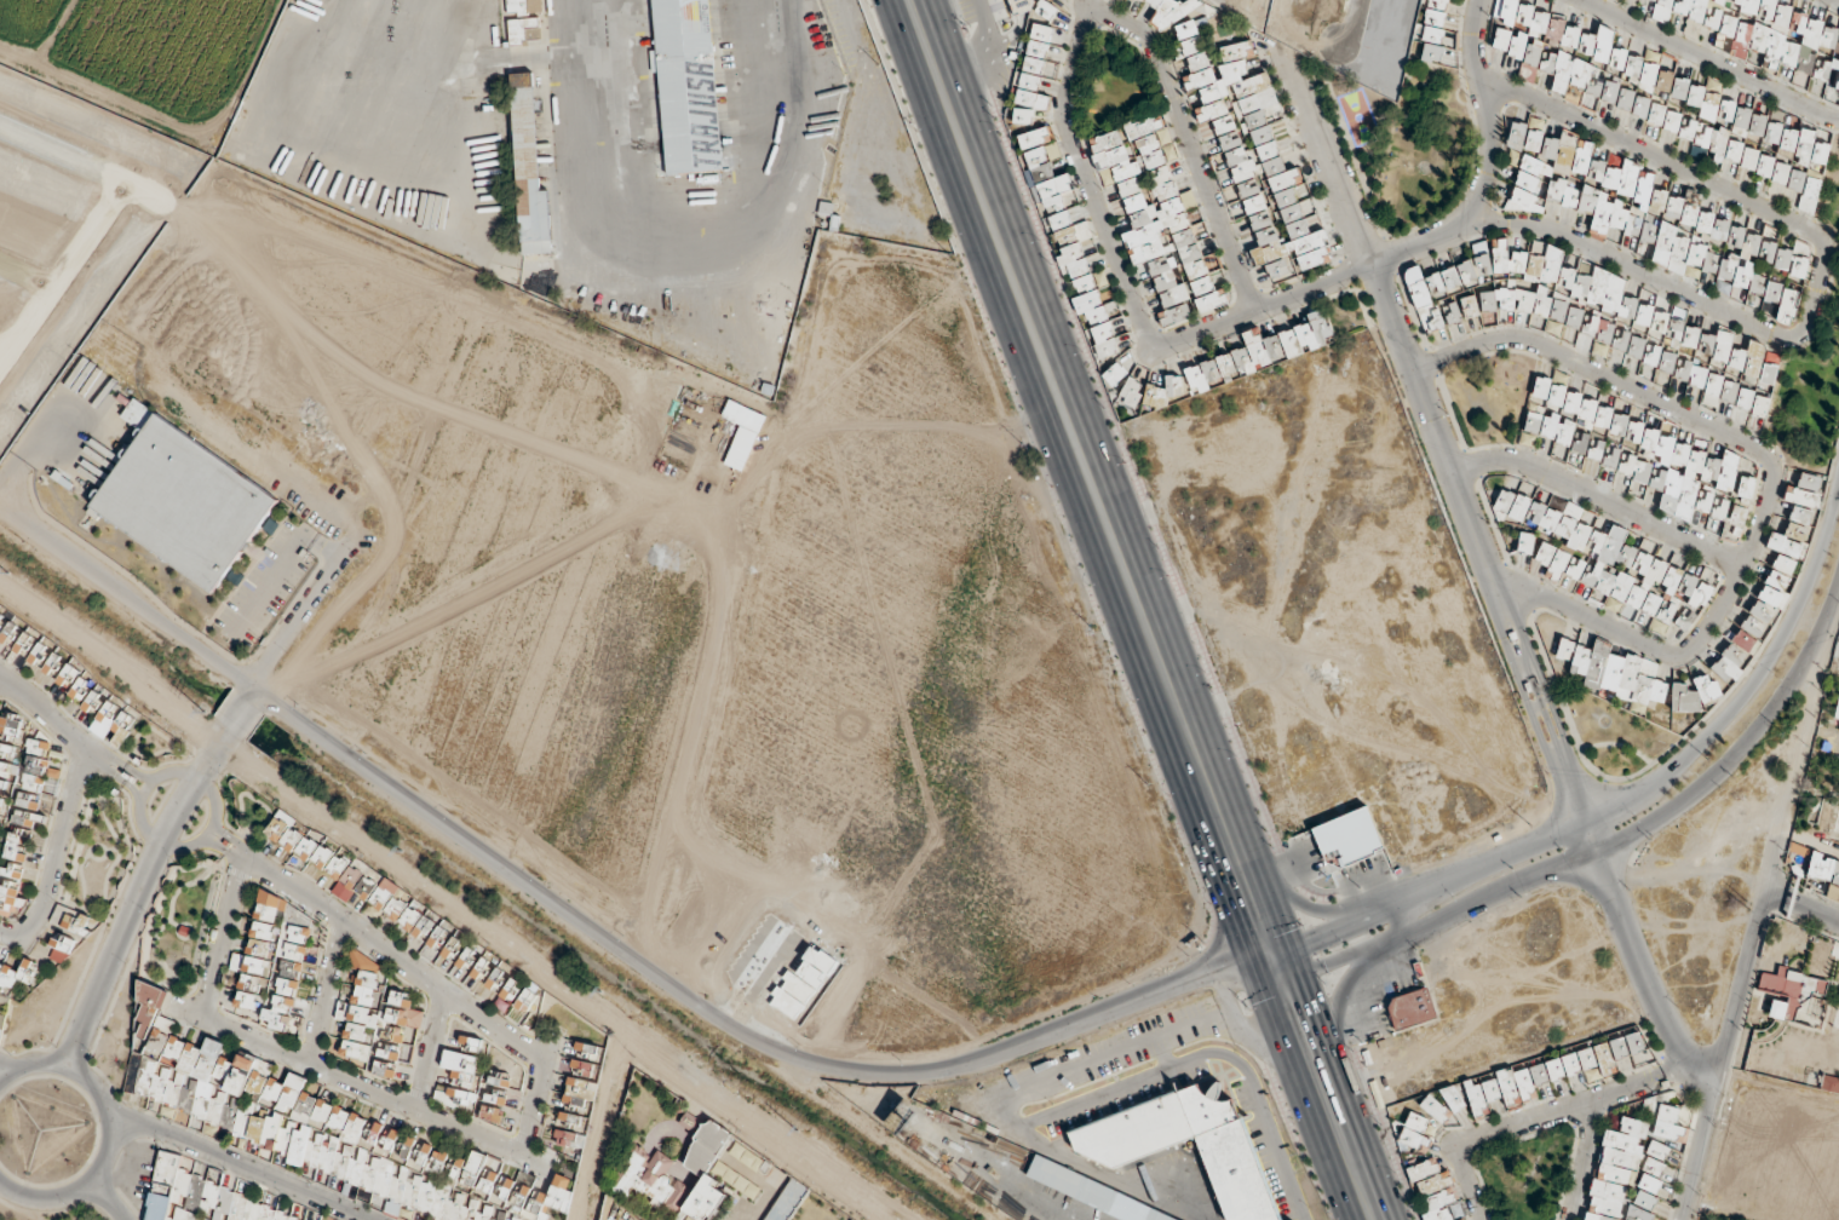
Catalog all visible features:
park: (45, 1133)

